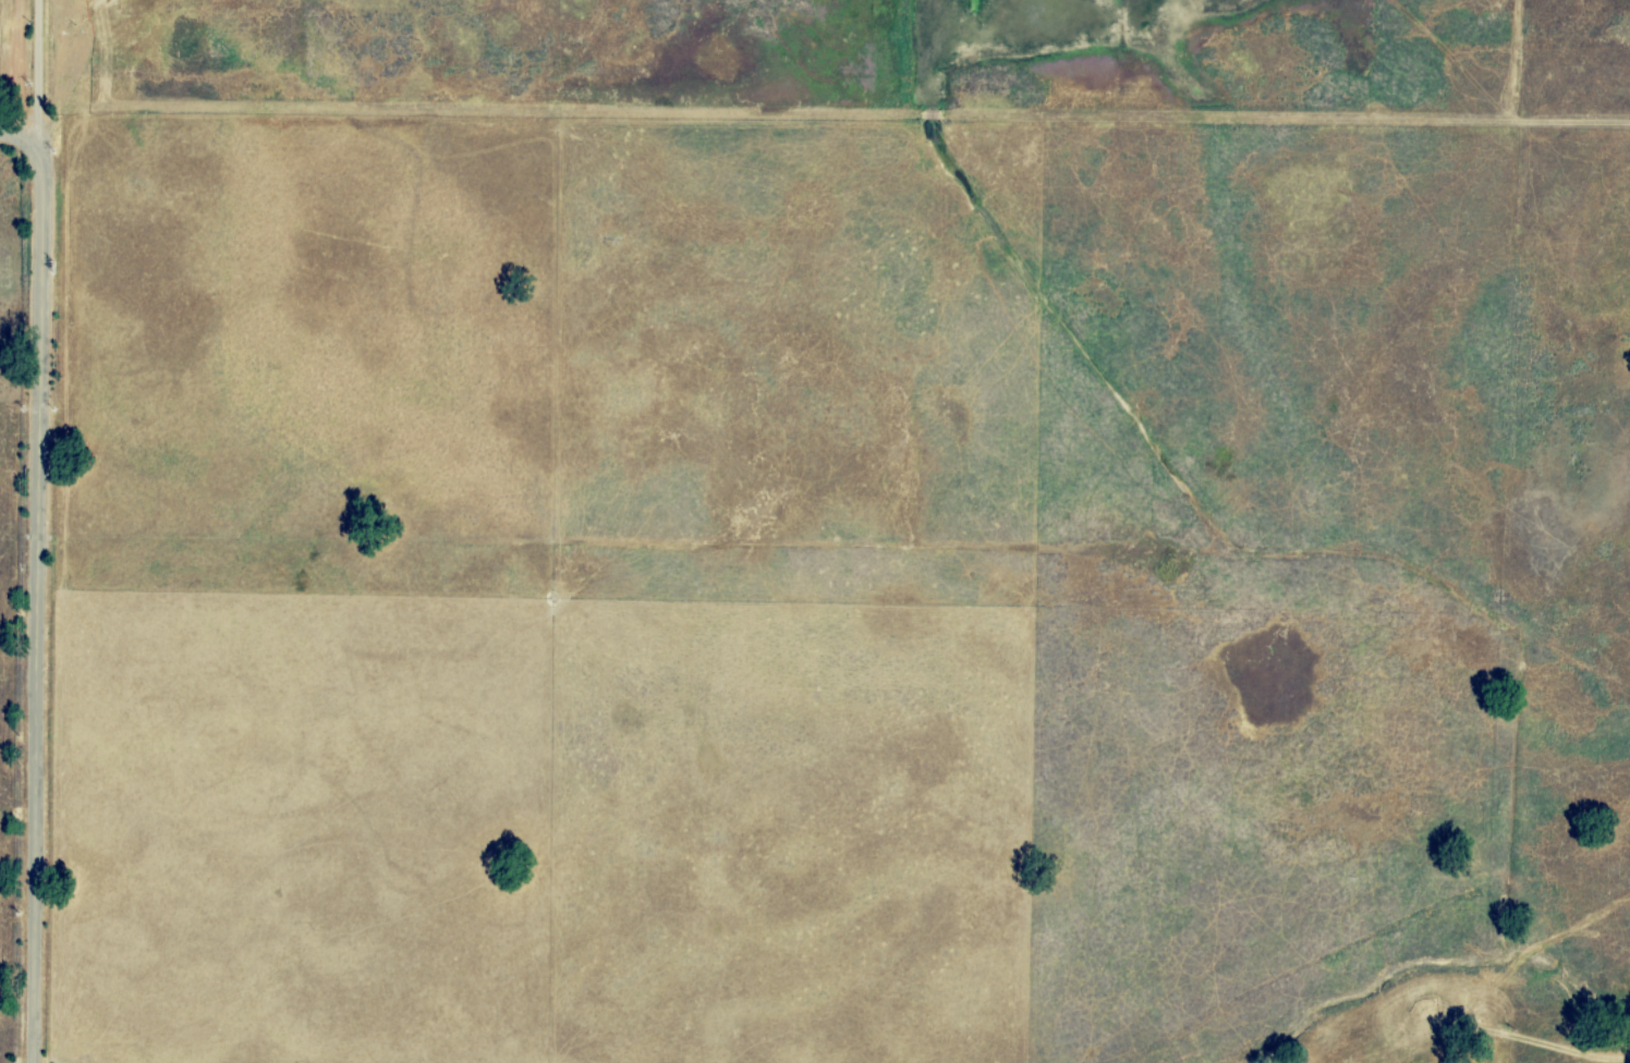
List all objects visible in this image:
road: (25, 72)
road: (40, 81)
road: (668, 154)
road: (41, 586)

